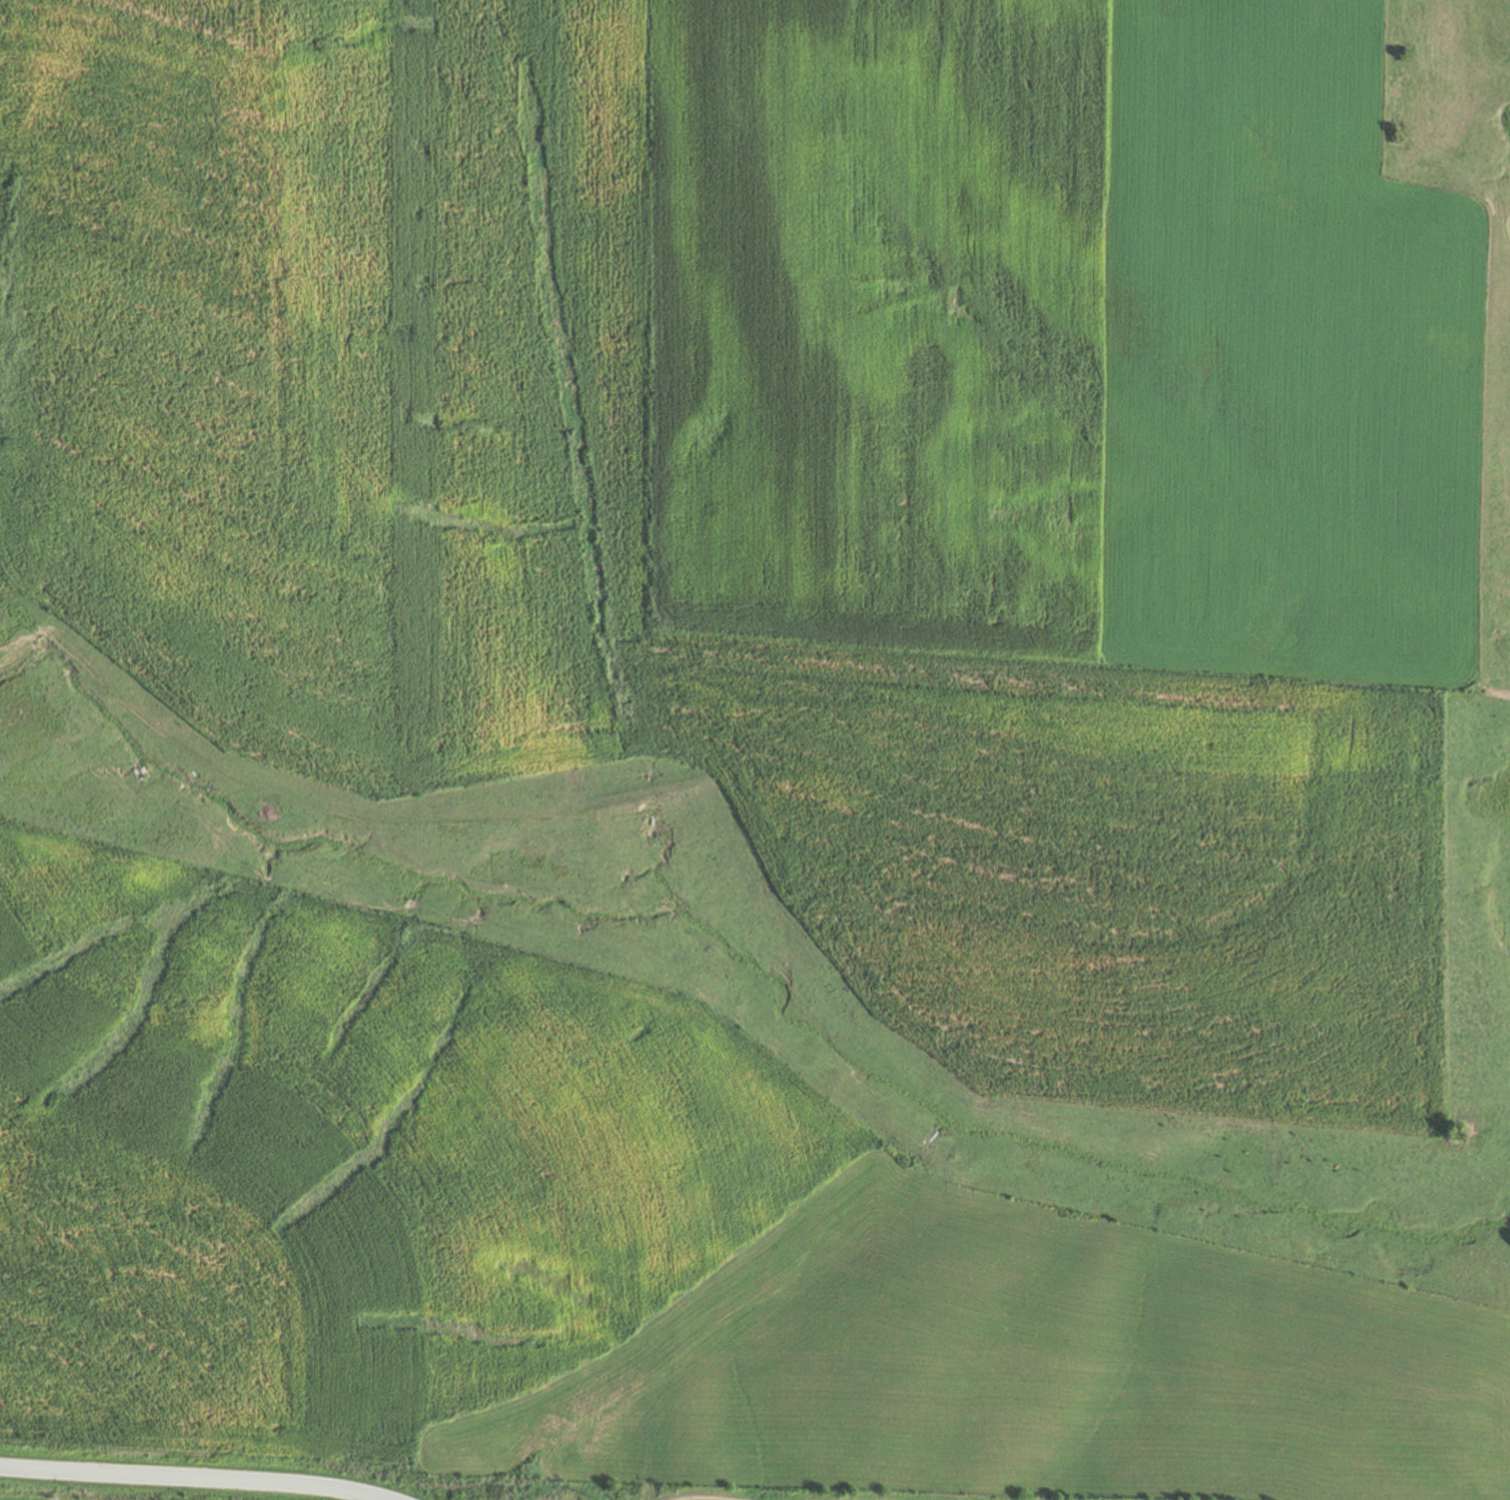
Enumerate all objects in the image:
road: (182, 1484)
road: (708, 1499)

